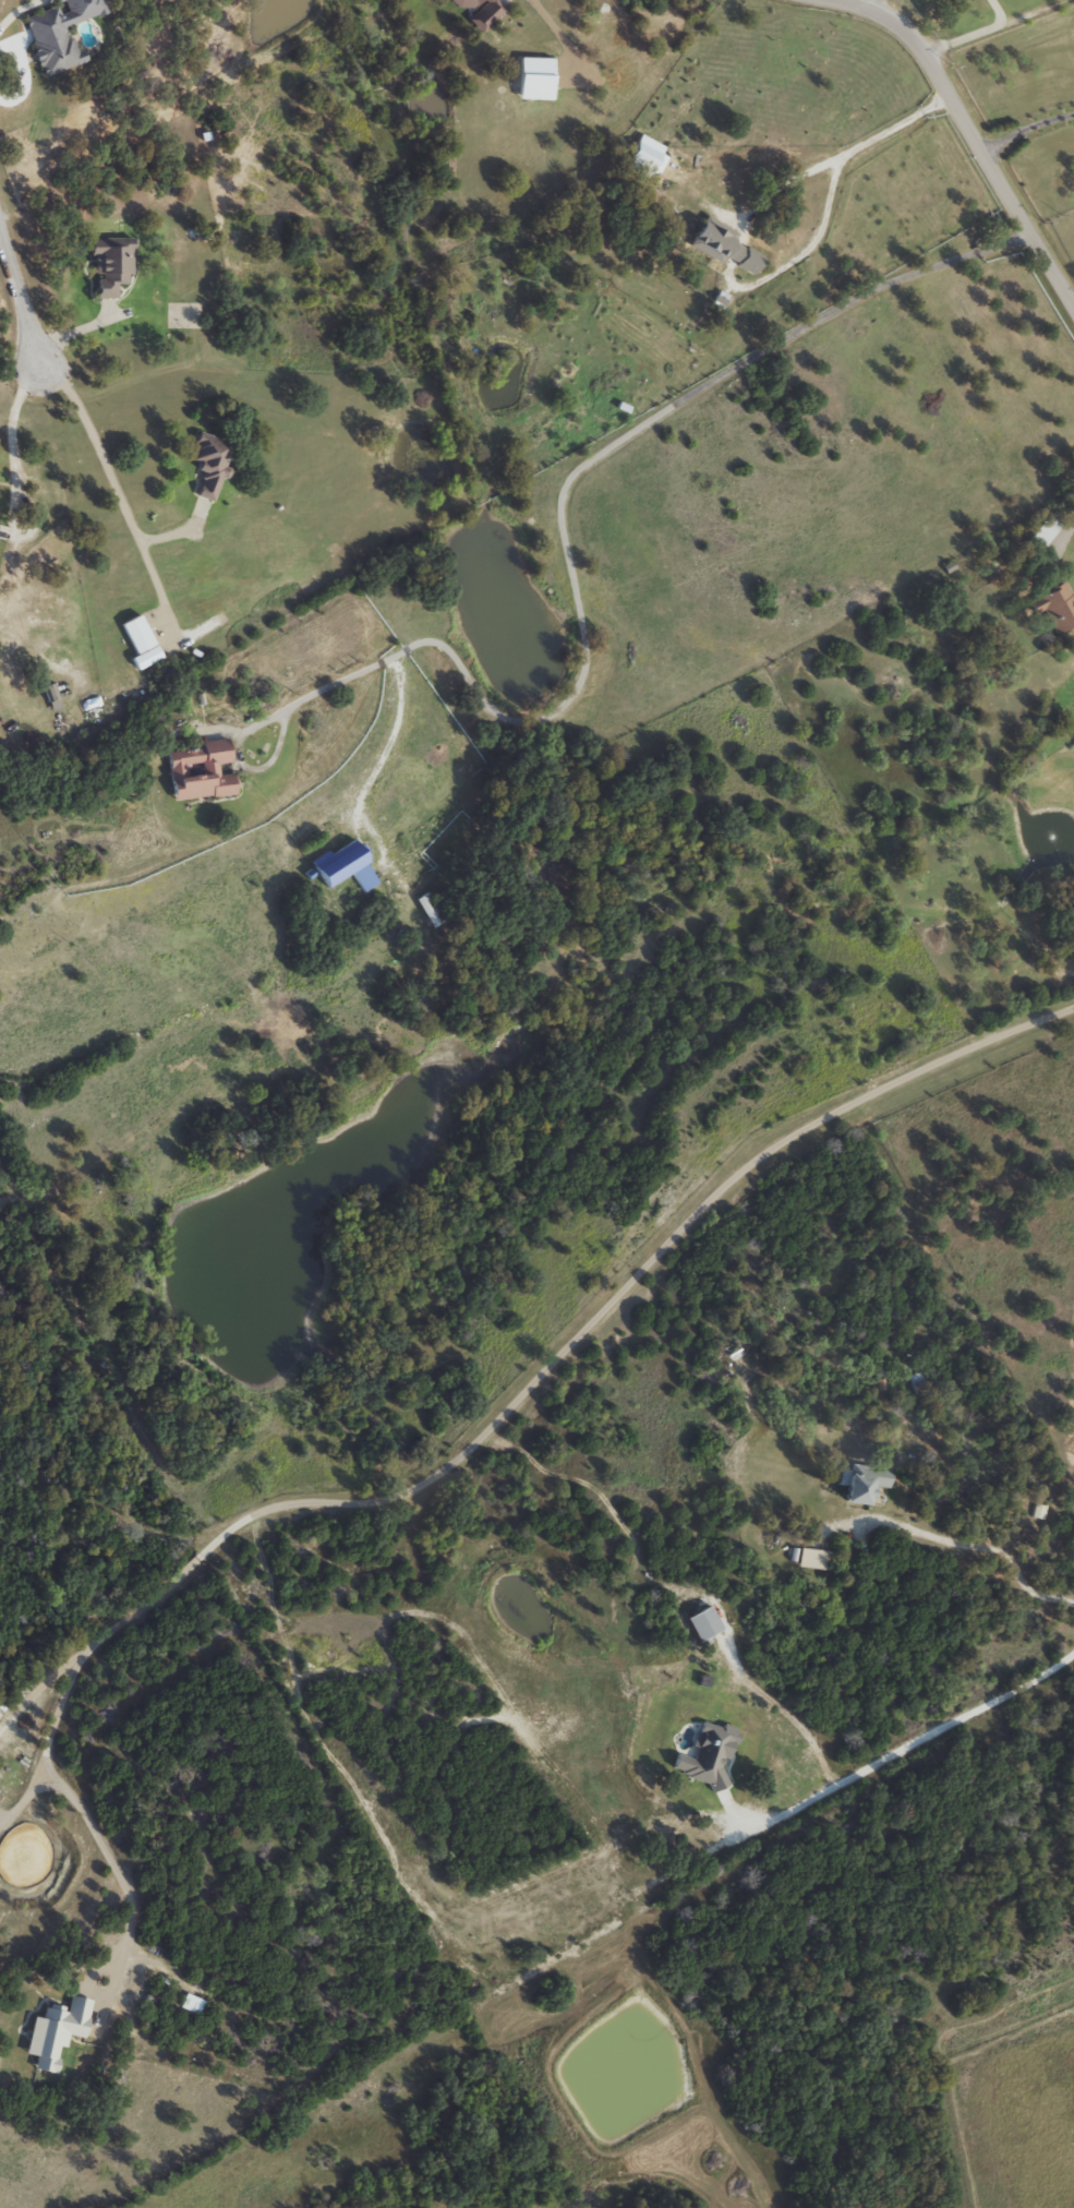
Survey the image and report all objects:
road: (865, 2)
road: (974, 35)
building: (55, 44)
building: (541, 81)
road: (1025, 129)
road: (970, 133)
road: (835, 161)
road: (1, 240)
building: (721, 248)
building: (118, 263)
road: (20, 297)
road: (13, 423)
road: (109, 466)
building: (215, 467)
building: (1, 506)
road: (559, 523)
road: (1065, 531)
building: (1041, 533)
building: (1053, 609)
building: (145, 643)
road: (399, 739)
building: (206, 773)
building: (349, 867)
building: (434, 912)
road: (535, 1369)
building: (857, 1484)
building: (1035, 1513)
road: (975, 1547)
building: (810, 1560)
road: (910, 1744)
road: (25, 1787)
road: (80, 1814)
building: (196, 2006)
building: (61, 2036)

